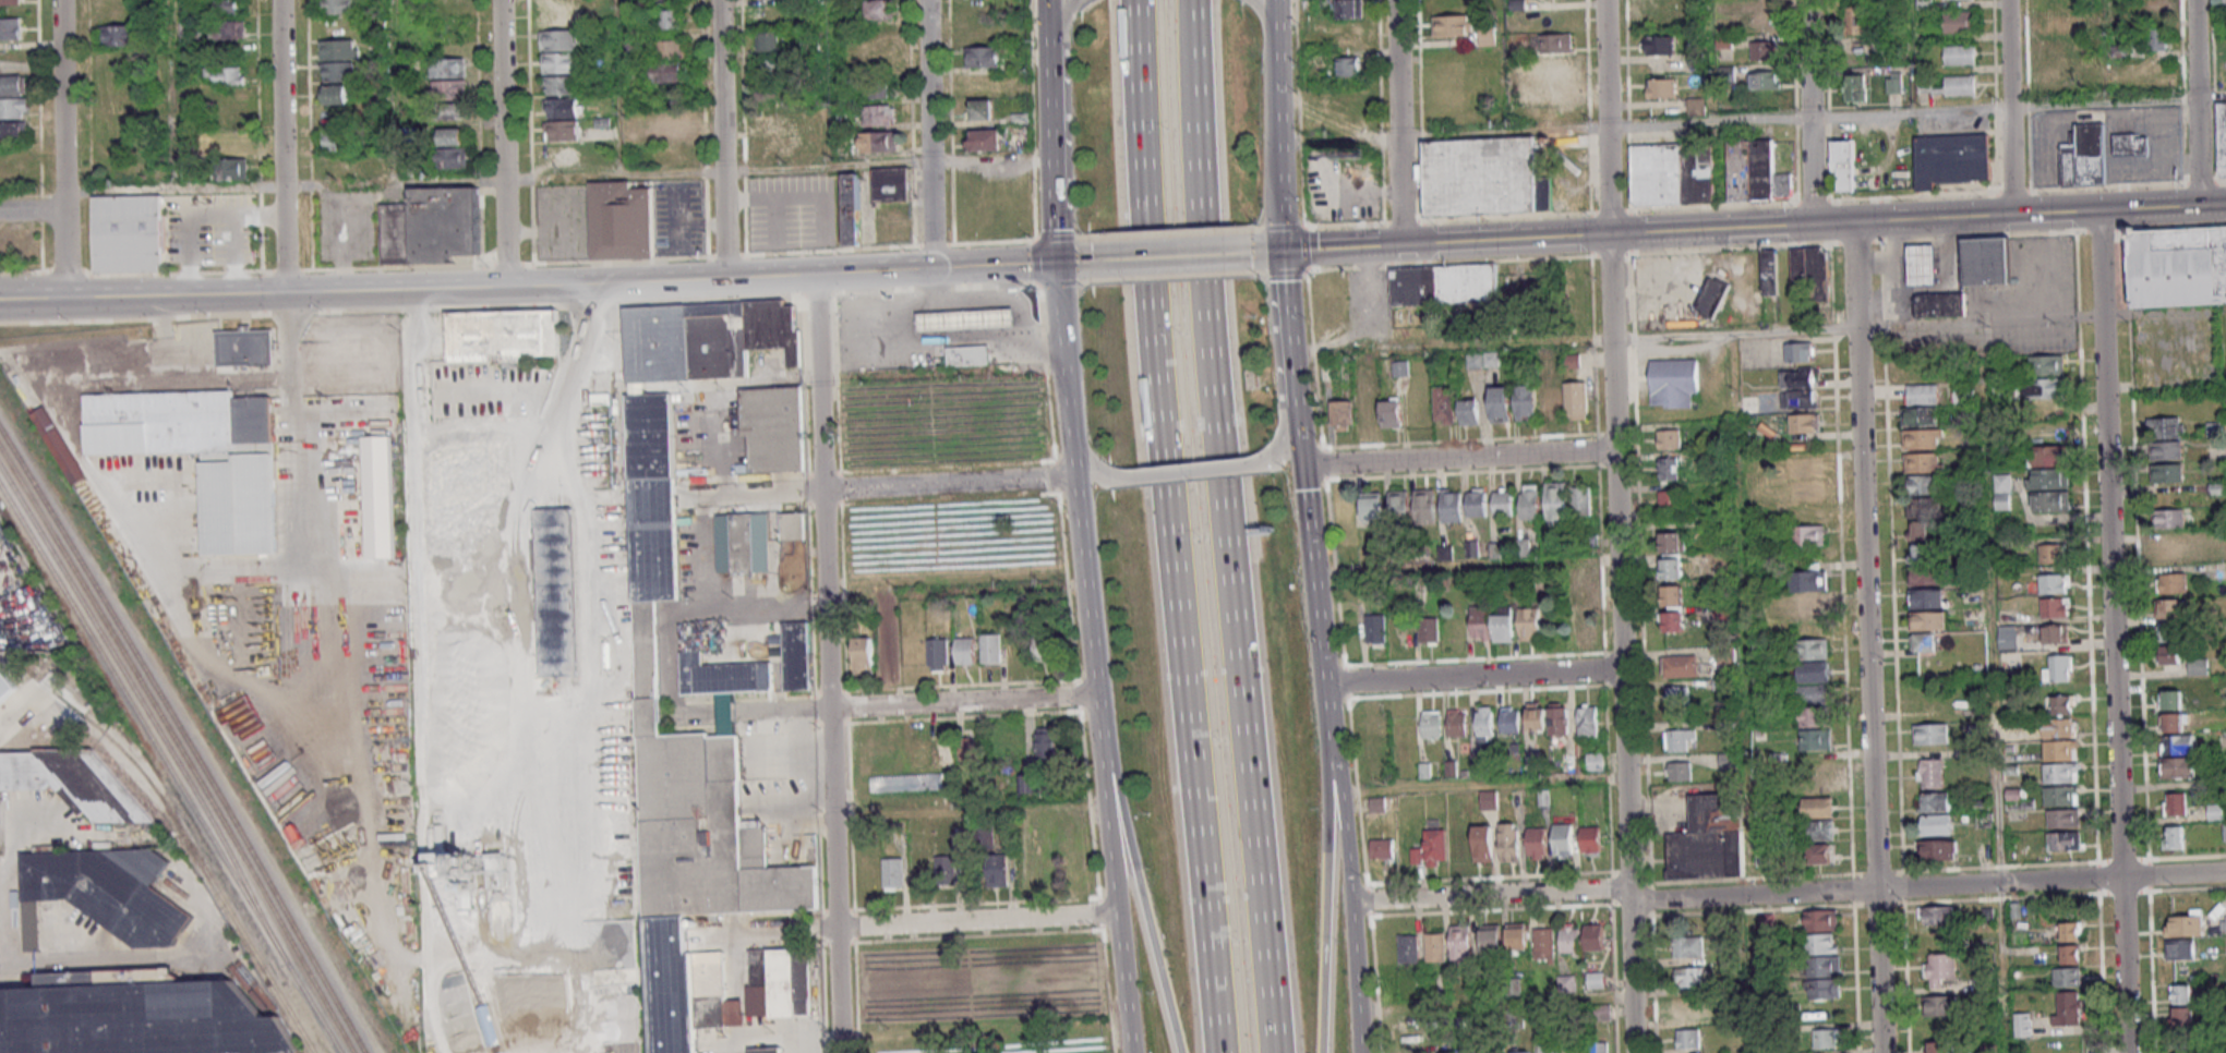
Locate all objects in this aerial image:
building: (666, 0)
building: (1764, 0)
road: (1252, 1)
building: (11, 2)
road: (1075, 2)
building: (2223, 2)
building: (338, 7)
building: (227, 8)
building: (1351, 9)
building: (1651, 9)
building: (880, 10)
building: (2157, 10)
road: (1274, 14)
road: (1264, 15)
road: (1048, 16)
building: (670, 19)
road: (1060, 19)
building: (1765, 20)
building: (1854, 20)
building: (1959, 22)
building: (1453, 25)
building: (2055, 25)
building: (9, 28)
building: (228, 29)
building: (118, 34)
building: (1488, 34)
building: (2157, 39)
building: (559, 40)
building: (772, 40)
building: (1658, 45)
building: (675, 48)
road: (2195, 48)
building: (2055, 49)
building: (1764, 50)
building: (1554, 55)
building: (1960, 55)
building: (984, 57)
building: (338, 60)
road: (1050, 61)
road: (1397, 64)
building: (1349, 65)
building: (448, 66)
building: (774, 66)
building: (2090, 69)
building: (669, 71)
building: (227, 75)
building: (1766, 80)
building: (1893, 83)
building: (559, 85)
building: (1960, 85)
building: (883, 87)
building: (1661, 87)
building: (1854, 87)
building: (1555, 88)
building: (449, 89)
building: (334, 94)
building: (12, 97)
road: (2117, 100)
road: (60, 106)
building: (1696, 106)
road: (2009, 107)
building: (983, 108)
building: (450, 111)
road: (1808, 112)
building: (879, 114)
road: (1605, 117)
building: (562, 119)
building: (780, 120)
building: (670, 123)
road: (1644, 124)
building: (814, 125)
building: (13, 132)
road: (929, 134)
building: (2222, 137)
building: (337, 140)
road: (722, 140)
building: (985, 140)
road: (1277, 140)
building: (877, 142)
building: (230, 143)
road: (502, 143)
building: (2130, 144)
road: (281, 147)
building: (453, 147)
building: (774, 147)
road: (2198, 150)
building: (2084, 156)
building: (1951, 159)
building: (340, 165)
road: (827, 165)
building: (1843, 165)
building: (233, 168)
building: (1756, 172)
building: (1672, 173)
road: (1054, 175)
building: (1484, 177)
road: (1399, 186)
building: (873, 195)
road: (790, 197)
road: (32, 211)
road: (2040, 213)
building: (622, 219)
road: (1832, 223)
building: (431, 226)
road: (682, 226)
road: (1264, 227)
road: (1170, 231)
building: (128, 233)
road: (1607, 234)
road: (1738, 246)
road: (1341, 247)
road: (1271, 251)
traffic signals: (1282, 251)
road: (63, 254)
road: (1165, 256)
building: (1985, 261)
traffic signals: (1057, 262)
road: (1063, 262)
road: (545, 263)
building: (1920, 263)
building: (2178, 266)
building: (1812, 269)
building: (1769, 273)
road: (1855, 275)
road: (1172, 276)
road: (1088, 280)
road: (1060, 281)
building: (1444, 285)
road: (528, 286)
building: (1712, 296)
road: (518, 303)
building: (1938, 304)
road: (1285, 306)
building: (964, 318)
road: (1978, 322)
road: (161, 325)
building: (771, 327)
building: (497, 336)
road: (1574, 339)
building: (684, 340)
building: (244, 349)
building: (1800, 352)
road: (1062, 353)
building: (965, 354)
building: (1483, 360)
road: (386, 363)
building: (2046, 364)
building: (1254, 378)
building: (1674, 383)
road: (107, 387)
building: (2044, 387)
building: (1797, 388)
building: (1922, 394)
building: (1576, 400)
building: (1553, 401)
building: (1367, 402)
building: (1527, 402)
building: (1500, 403)
building: (1749, 403)
building: (1443, 404)
building: (1469, 411)
building: (1392, 412)
building: (1341, 414)
building: (1921, 416)
building: (1803, 423)
building: (770, 427)
building: (2166, 427)
building: (1670, 438)
building: (1922, 438)
building: (57, 444)
road: (1277, 447)
building: (2166, 450)
road: (1458, 458)
building: (1922, 462)
road: (1092, 465)
building: (1803, 467)
building: (1669, 468)
building: (2167, 473)
road: (1184, 474)
building: (2049, 477)
building: (1923, 484)
road: (949, 485)
building: (1806, 491)
building: (2002, 491)
building: (378, 496)
building: (650, 496)
building: (1556, 496)
building: (1424, 498)
building: (1671, 499)
building: (1477, 501)
building: (1504, 501)
building: (1530, 501)
building: (238, 503)
building: (1452, 505)
building: (1370, 508)
building: (1923, 518)
building: (2168, 518)
building: (790, 526)
road: (1167, 526)
road: (1222, 526)
road: (127, 529)
road: (413, 535)
building: (1808, 535)
building: (1673, 542)
building: (739, 543)
building: (2169, 548)
road: (1311, 552)
building: (1927, 553)
building: (2051, 553)
road: (1466, 565)
building: (1671, 568)
building: (1586, 573)
building: (1926, 576)
building: (2173, 582)
building: (2055, 583)
road: (1085, 585)
building: (1809, 590)
building: (555, 592)
building: (1927, 597)
building: (2055, 606)
building: (1673, 608)
building: (2168, 608)
building: (1927, 620)
building: (1530, 622)
building: (1481, 624)
building: (1504, 624)
building: (1375, 629)
building: (1429, 630)
road: (2113, 631)
building: (1403, 632)
building: (2170, 632)
building: (2055, 633)
building: (1923, 642)
road: (1622, 643)
building: (990, 647)
building: (1048, 649)
building: (1813, 649)
building: (965, 651)
building: (938, 654)
building: (2170, 654)
building: (793, 655)
building: (864, 655)
road: (827, 664)
building: (1680, 666)
building: (2198, 666)
building: (2059, 667)
building: (1813, 671)
road: (1473, 677)
building: (721, 683)
building: (5, 686)
road: (1994, 687)
road: (1868, 690)
road: (1743, 693)
building: (1812, 693)
building: (1681, 698)
railway: (137, 700)
building: (1933, 700)
building: (2173, 700)
road: (962, 701)
building: (2063, 703)
road: (508, 707)
building: (1537, 716)
building: (1725, 717)
building: (1559, 718)
building: (1512, 719)
building: (1588, 721)
building: (2176, 722)
building: (1458, 723)
building: (1484, 723)
building: (1380, 724)
building: (1431, 724)
building: (2060, 727)
building: (1815, 728)
building: (1930, 733)
building: (1677, 738)
railway: (184, 741)
building: (1046, 745)
building: (2179, 745)
building: (971, 750)
building: (2060, 750)
railway: (179, 751)
road: (360, 754)
building: (1728, 760)
building: (1596, 761)
building: (2176, 767)
railway: (170, 768)
building: (1678, 771)
building: (2061, 772)
building: (1930, 773)
building: (73, 782)
building: (906, 782)
building: (1030, 783)
road: (1482, 785)
building: (2061, 795)
building: (1489, 799)
building: (1935, 801)
building: (2175, 803)
building: (1818, 807)
building: (2215, 811)
building: (698, 815)
building: (1984, 816)
building: (2063, 818)
building: (1936, 824)
road: (1109, 830)
building: (2225, 831)
building: (2174, 837)
building: (1563, 839)
building: (1590, 839)
building: (1709, 839)
building: (2063, 840)
building: (1509, 842)
building: (1483, 843)
building: (1537, 843)
building: (1382, 848)
building: (1431, 848)
building: (1938, 849)
building: (1819, 852)
railway: (197, 858)
road: (422, 862)
building: (946, 868)
building: (1025, 868)
building: (998, 870)
building: (892, 873)
road: (1140, 889)
road: (1788, 891)
building: (101, 893)
road: (1324, 896)
road: (1349, 896)
building: (1937, 915)
road: (977, 920)
building: (2185, 924)
building: (1821, 931)
building: (2072, 931)
building: (1517, 936)
building: (1593, 936)
building: (1492, 939)
building: (1571, 939)
building: (1460, 942)
building: (1543, 943)
building: (1435, 946)
building: (1688, 946)
building: (1408, 947)
building: (2180, 948)
building: (2071, 954)
road: (112, 961)
building: (1939, 969)
building: (1688, 977)
building: (1824, 977)
building: (2067, 977)
building: (1596, 980)
building: (1567, 983)
road: (1124, 993)
road: (1495, 1004)
building: (1940, 1005)
building: (2183, 1006)
building: (2068, 1007)
building: (1686, 1008)
building: (137, 1015)
building: (2023, 1025)
road: (774, 1038)
building: (1688, 1038)
building: (1827, 1038)
building: (2185, 1040)
building: (1599, 1046)
building: (1939, 1046)
building: (1548, 1049)
building: (767, 1050)
building: (1469, 1050)
building: (1415, 1051)
building: (1495, 1052)
building: (1523, 1052)
building: (2185, 1052)

